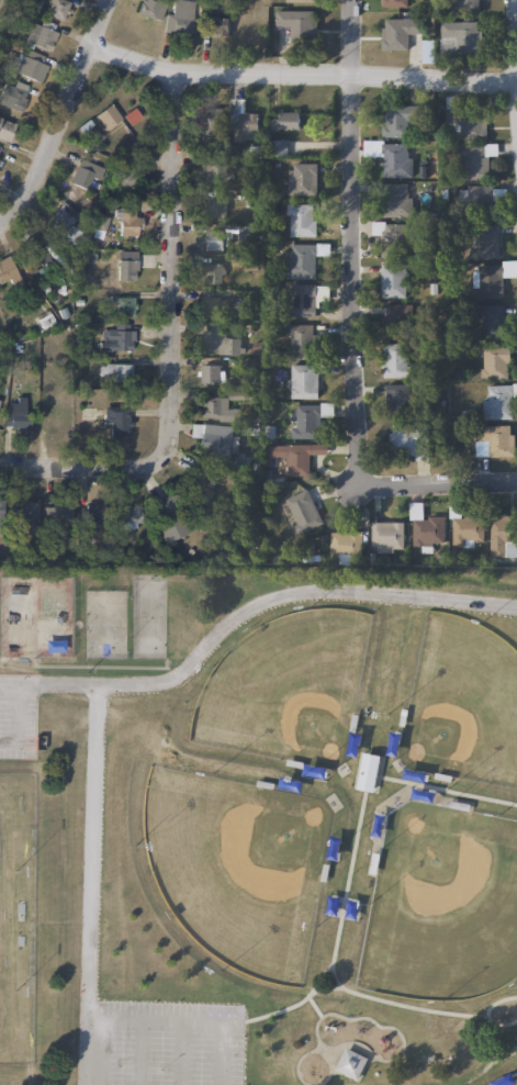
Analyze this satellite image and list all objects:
building: (299, 0)
road: (1, 3)
building: (391, 3)
building: (467, 5)
building: (57, 8)
building: (151, 8)
building: (179, 18)
building: (296, 23)
building: (217, 25)
building: (397, 33)
building: (41, 34)
building: (460, 36)
building: (426, 51)
building: (30, 65)
road: (300, 75)
building: (13, 93)
road: (59, 116)
building: (108, 116)
building: (397, 119)
building: (284, 120)
building: (464, 120)
building: (212, 121)
building: (244, 127)
building: (5, 130)
building: (393, 159)
building: (474, 159)
building: (85, 172)
building: (218, 172)
building: (302, 178)
building: (475, 197)
building: (396, 200)
building: (214, 206)
building: (300, 220)
building: (128, 222)
building: (65, 223)
building: (246, 234)
building: (391, 234)
building: (213, 239)
building: (485, 241)
building: (32, 244)
building: (301, 260)
building: (126, 265)
building: (9, 272)
building: (213, 273)
building: (392, 280)
building: (490, 280)
building: (305, 299)
building: (124, 306)
building: (214, 306)
building: (395, 320)
building: (491, 322)
road: (348, 325)
building: (116, 337)
building: (300, 340)
building: (218, 342)
road: (173, 349)
building: (395, 359)
building: (494, 361)
building: (114, 371)
building: (212, 373)
building: (303, 381)
building: (397, 398)
building: (497, 401)
building: (217, 409)
building: (15, 415)
building: (306, 418)
building: (119, 424)
building: (215, 438)
building: (402, 439)
building: (494, 441)
building: (297, 456)
building: (201, 485)
building: (0, 508)
building: (26, 510)
building: (301, 512)
building: (57, 513)
building: (93, 513)
building: (128, 515)
building: (169, 521)
building: (464, 528)
building: (426, 532)
building: (386, 536)
building: (503, 536)
building: (344, 545)
road: (247, 609)
park: (34, 617)
park: (147, 617)
park: (104, 624)
park: (283, 689)
park: (462, 701)
road: (13, 709)
parking lot: (18, 716)
road: (7, 737)
road: (379, 767)
building: (366, 772)
road: (355, 776)
park: (259, 829)
park: (237, 865)
road: (92, 883)
road: (342, 897)
park: (439, 907)
road: (318, 978)
road: (322, 987)
road: (494, 999)
road: (308, 1000)
road: (267, 1014)
road: (191, 1021)
parking lot: (160, 1043)
road: (346, 1043)
road: (142, 1052)
road: (306, 1052)
road: (181, 1053)
road: (397, 1053)
road: (325, 1059)
building: (429, 1059)
building: (350, 1064)
road: (506, 1076)
park: (516, 1084)

